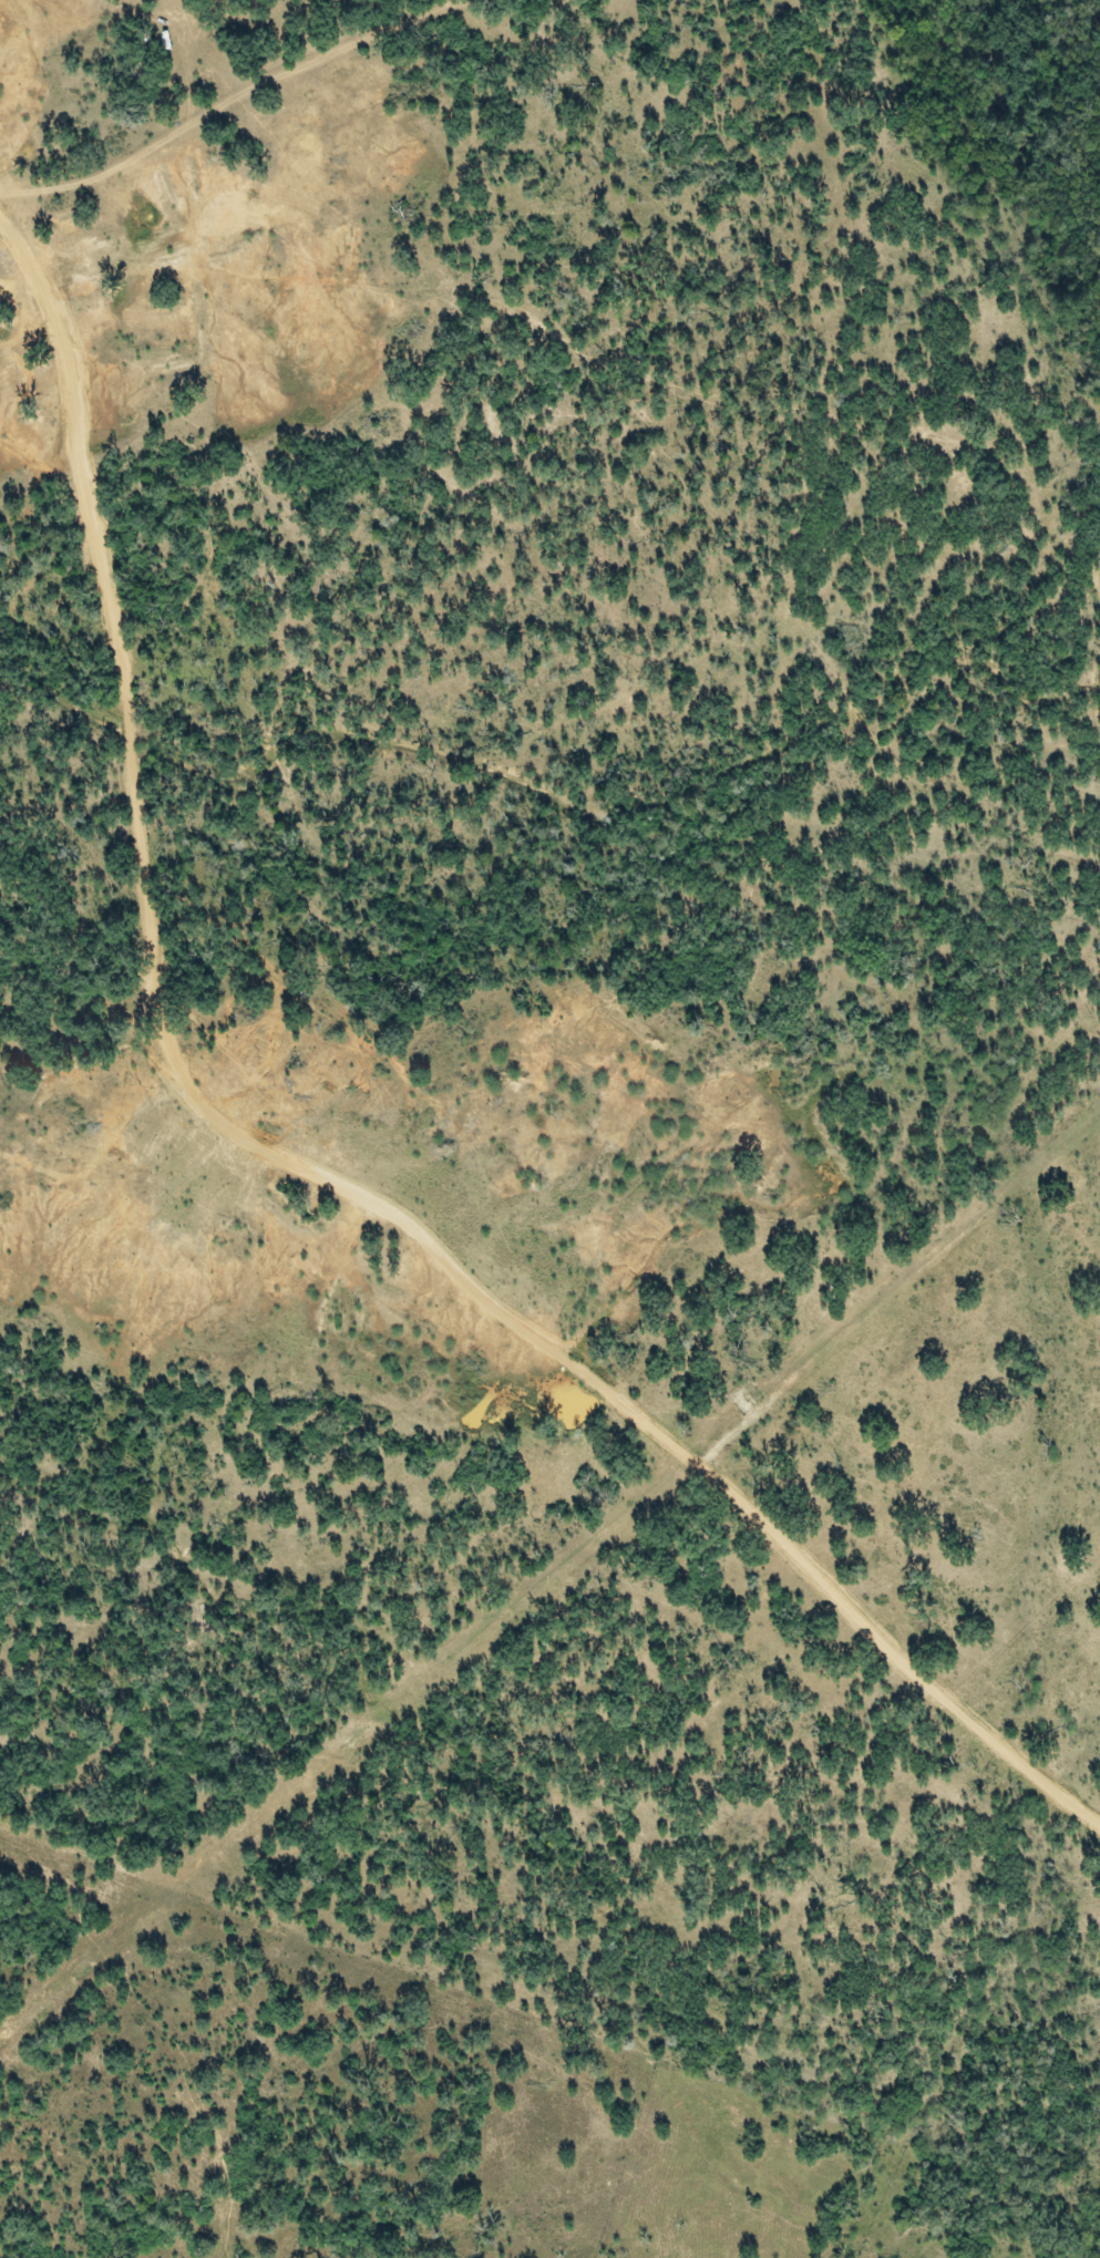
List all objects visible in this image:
road: (306, 1178)

